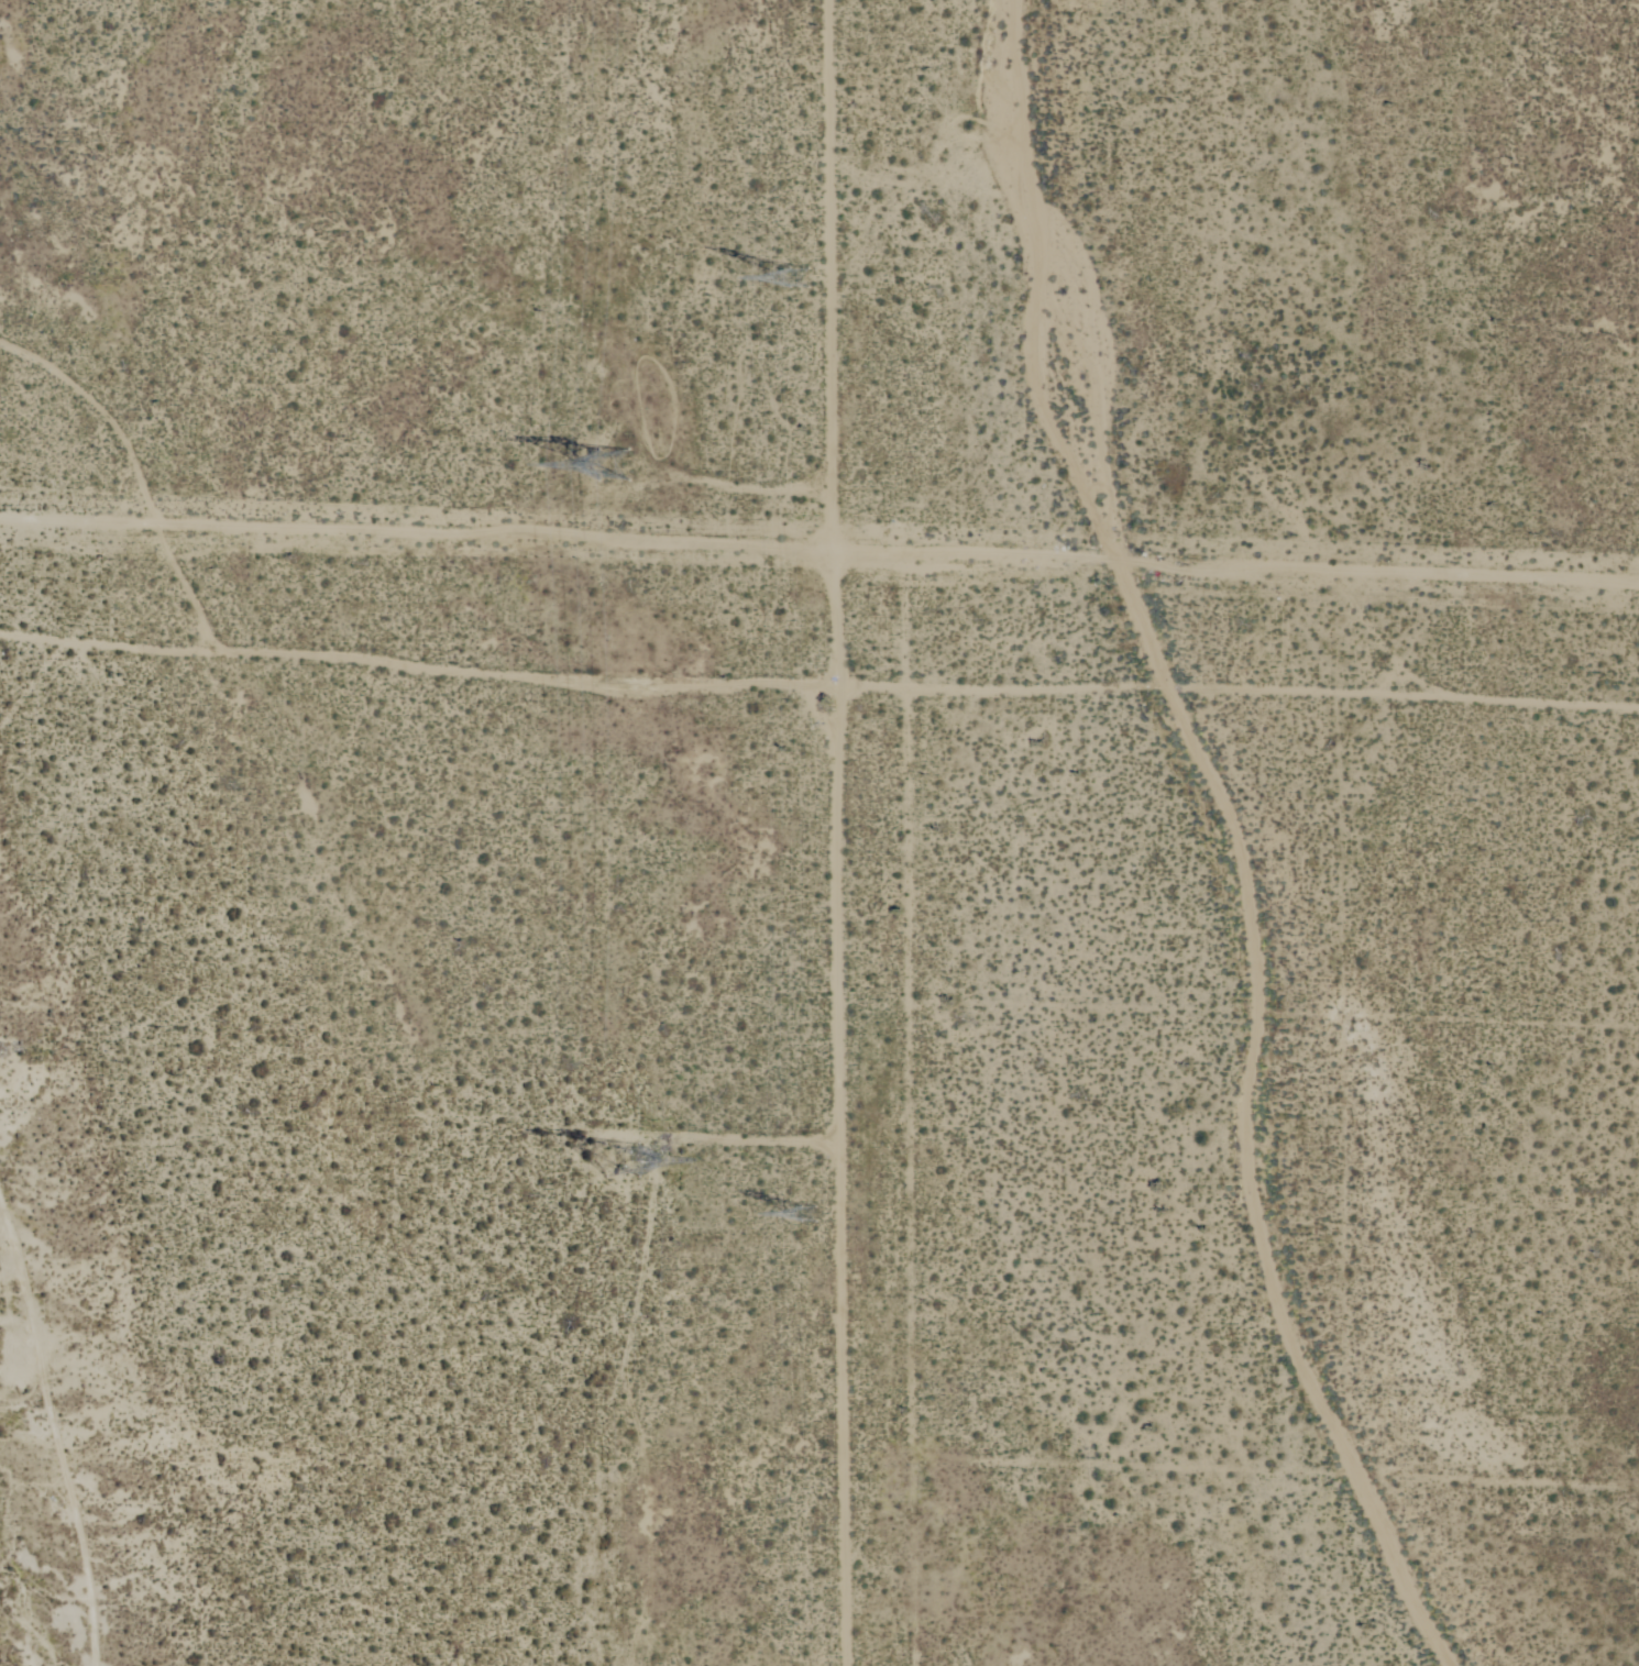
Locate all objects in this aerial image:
power tower: (814, 279)
power tower: (614, 453)
road: (823, 684)
road: (18, 933)
road: (1344, 1085)
power tower: (613, 1154)
road: (913, 1178)
power tower: (826, 1220)
road: (1274, 1472)
road: (59, 1480)

